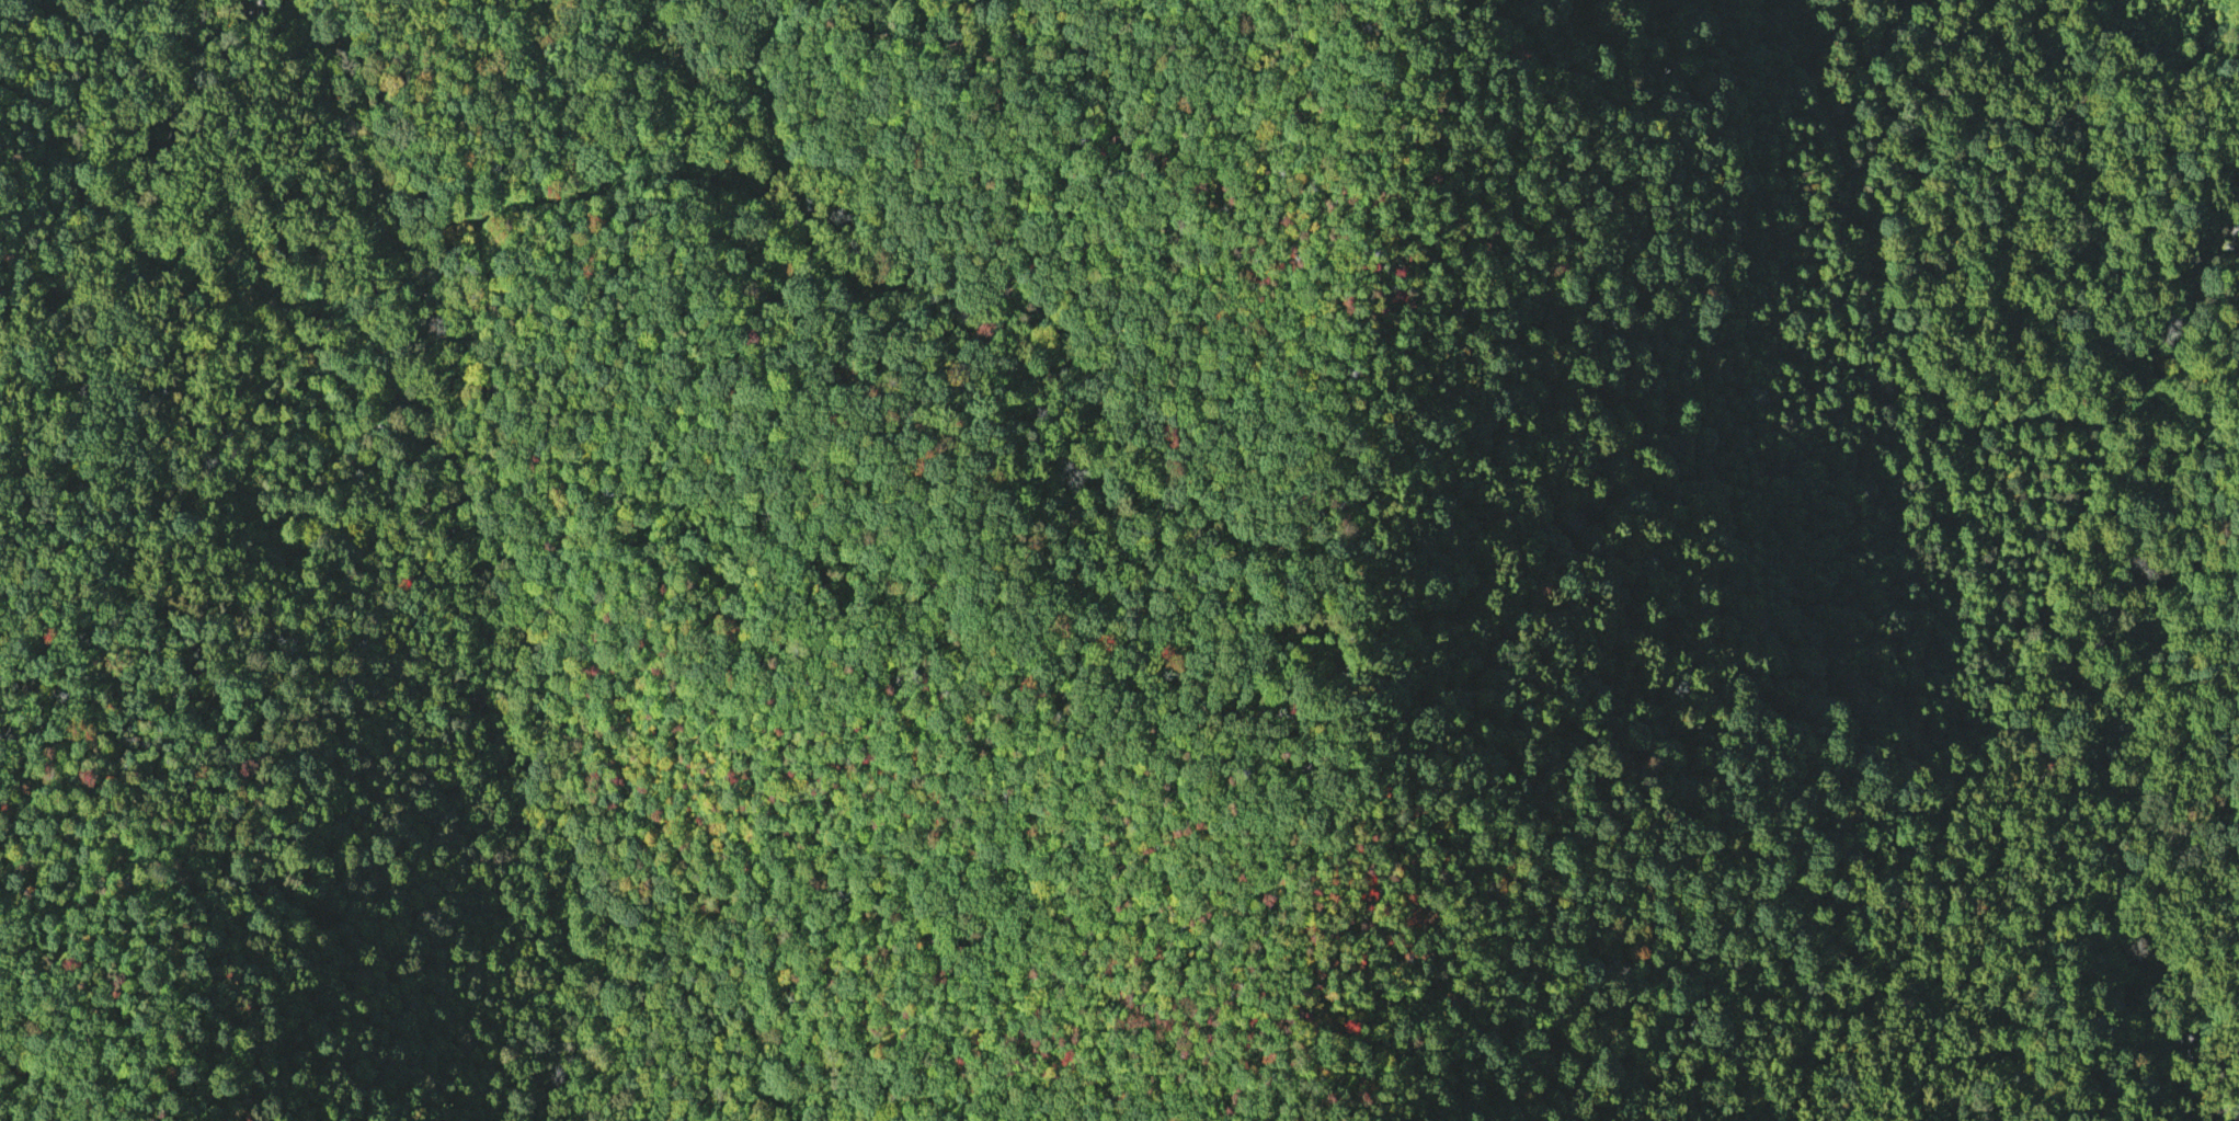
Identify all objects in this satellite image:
road: (439, 367)
road: (1957, 391)
road: (1313, 570)

